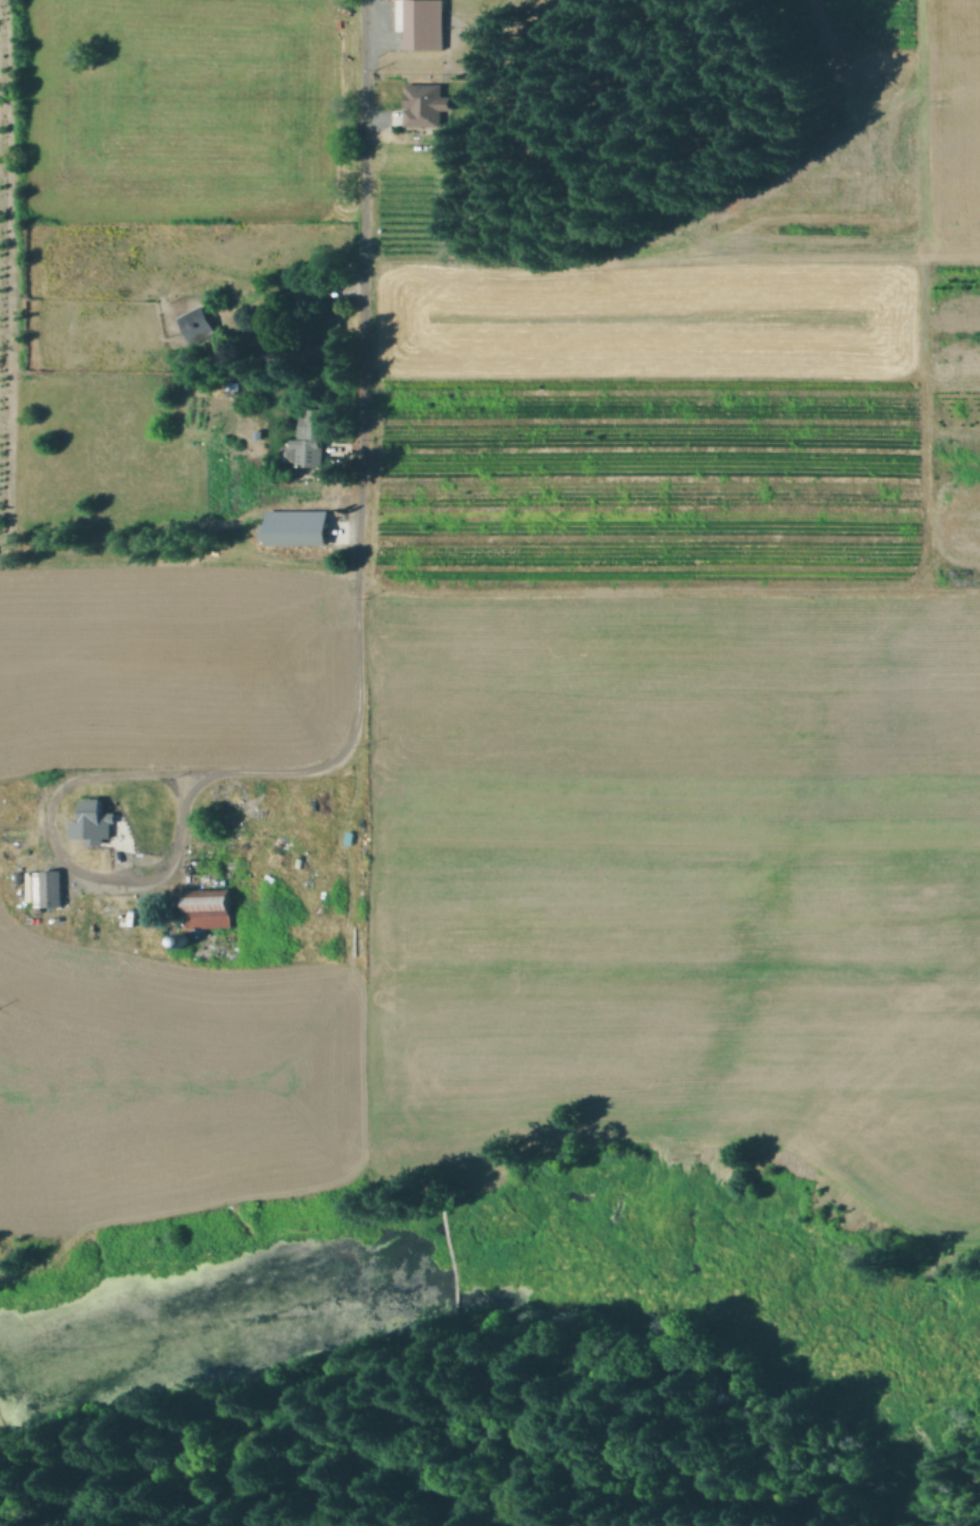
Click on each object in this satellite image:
building: (424, 23)
building: (424, 103)
building: (332, 322)
building: (200, 324)
road: (363, 326)
building: (306, 350)
building: (236, 385)
building: (320, 456)
building: (300, 529)
crop: (477, 635)
road: (96, 774)
building: (93, 819)
building: (53, 889)
building: (211, 893)

